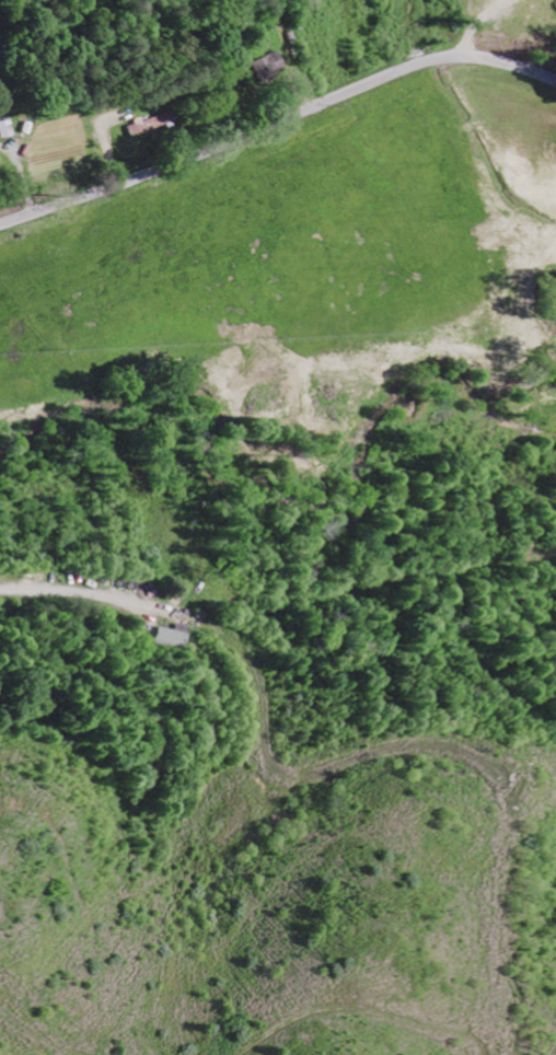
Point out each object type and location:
building: (270, 67)
building: (143, 126)
road: (277, 127)
building: (171, 636)

